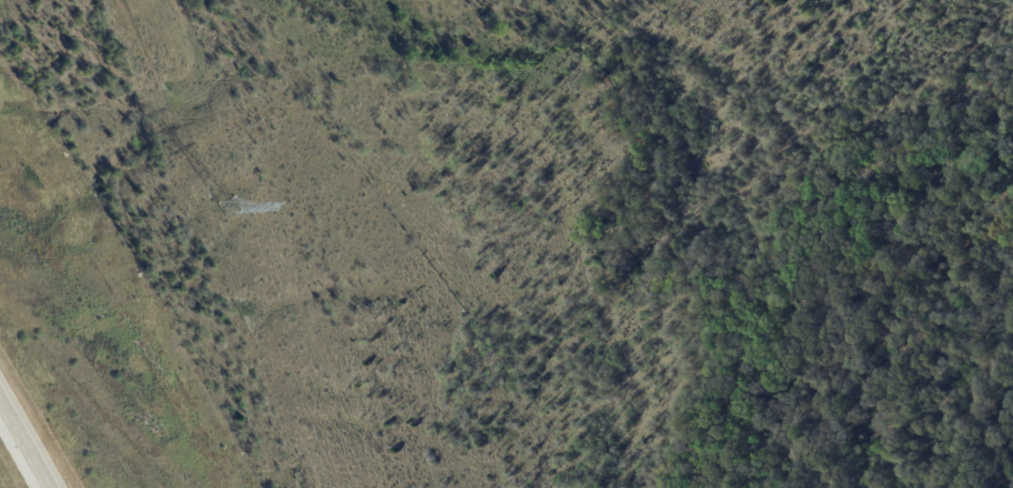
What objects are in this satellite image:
power tower: (234, 209)
road: (32, 437)

